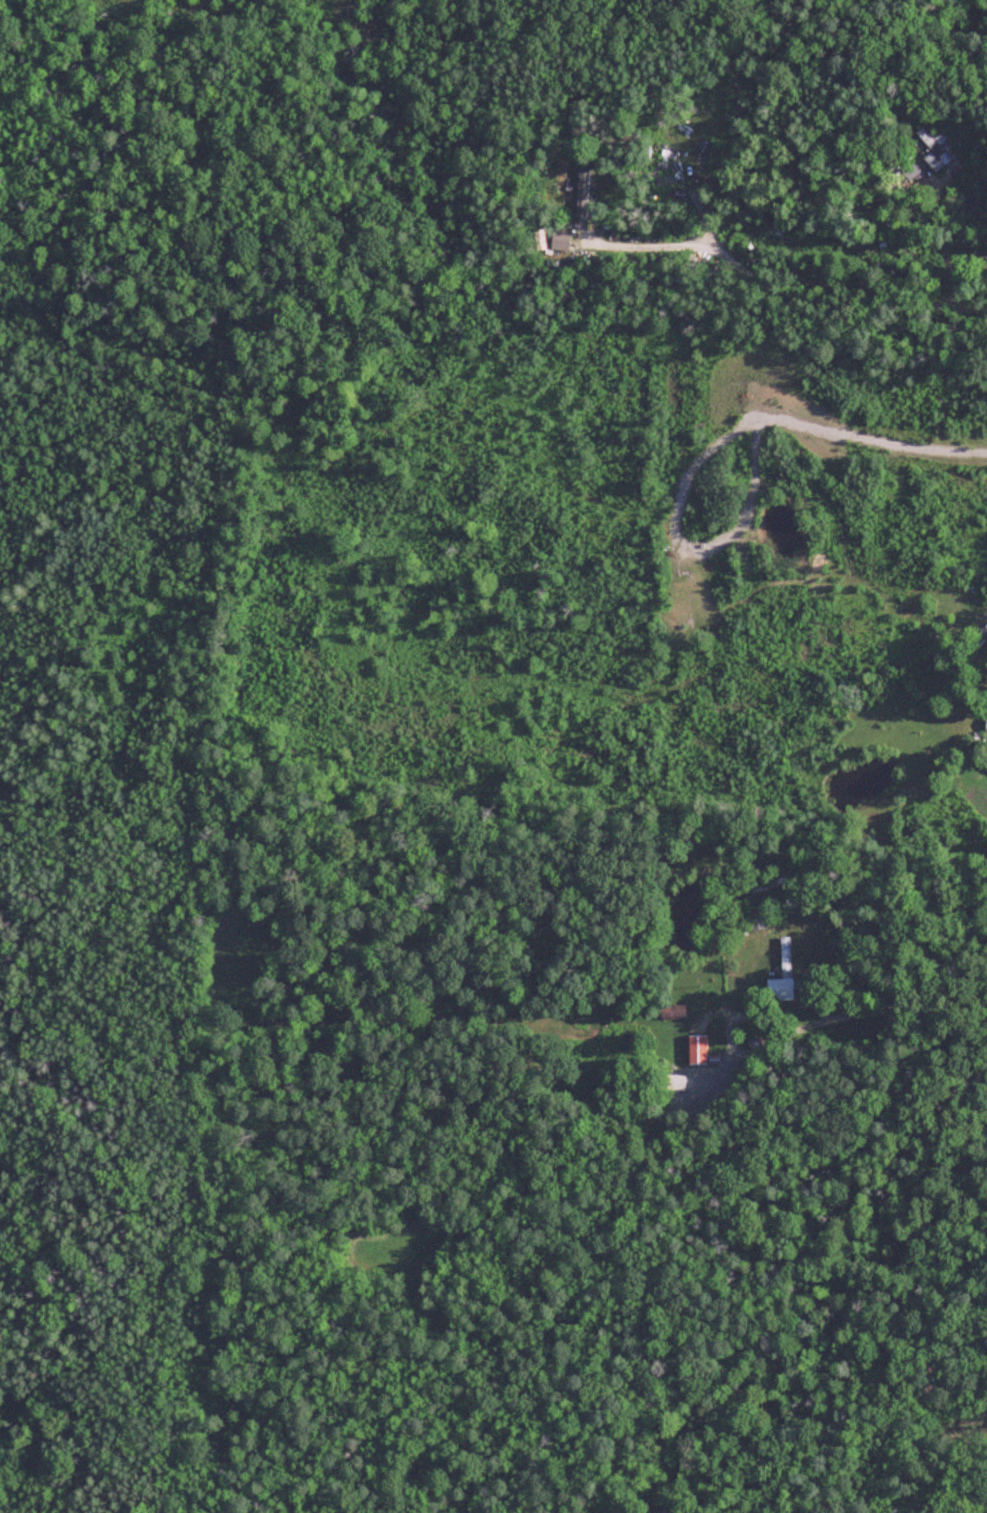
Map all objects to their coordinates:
building: (934, 148)
building: (670, 162)
building: (600, 171)
road: (788, 286)
building: (986, 720)
building: (758, 921)
building: (785, 975)
road: (890, 1007)
building: (673, 1012)
building: (698, 1050)

